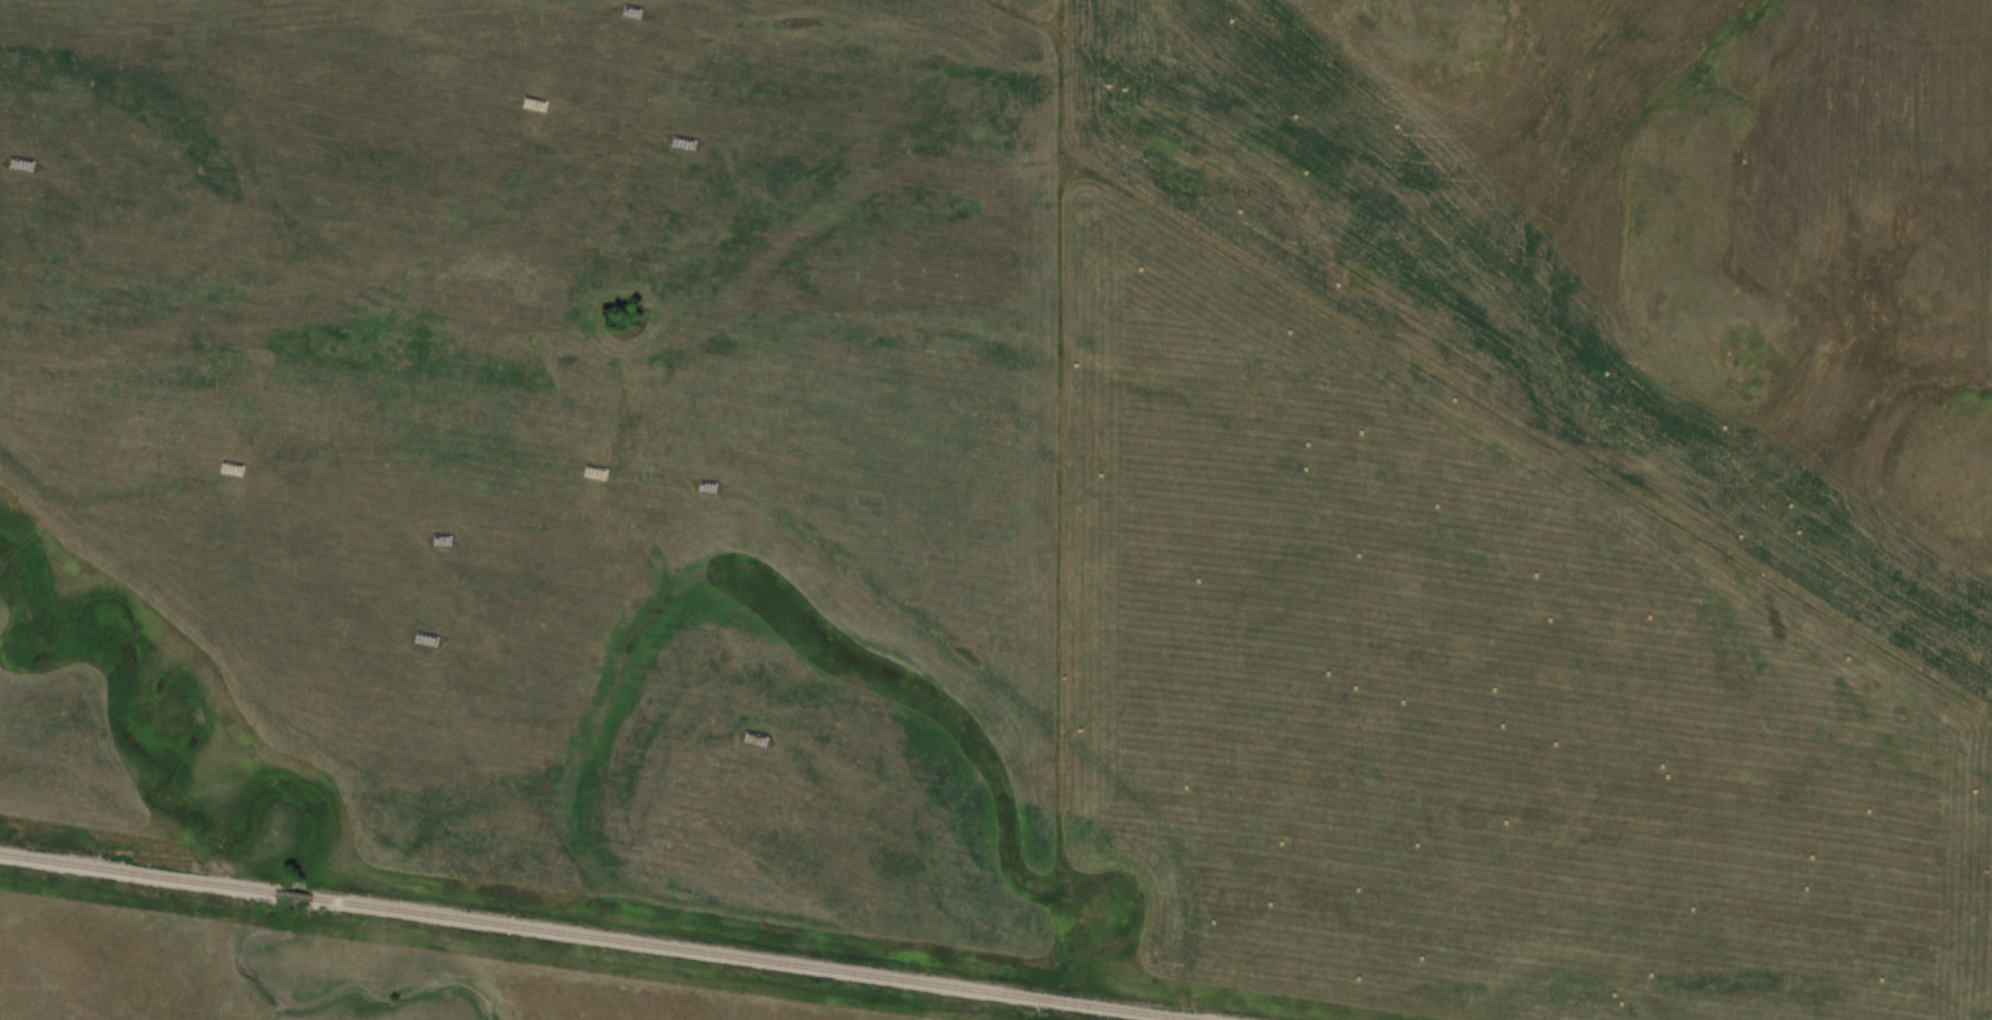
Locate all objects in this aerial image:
railway: (137, 873)
railway: (292, 895)
railway: (751, 959)

